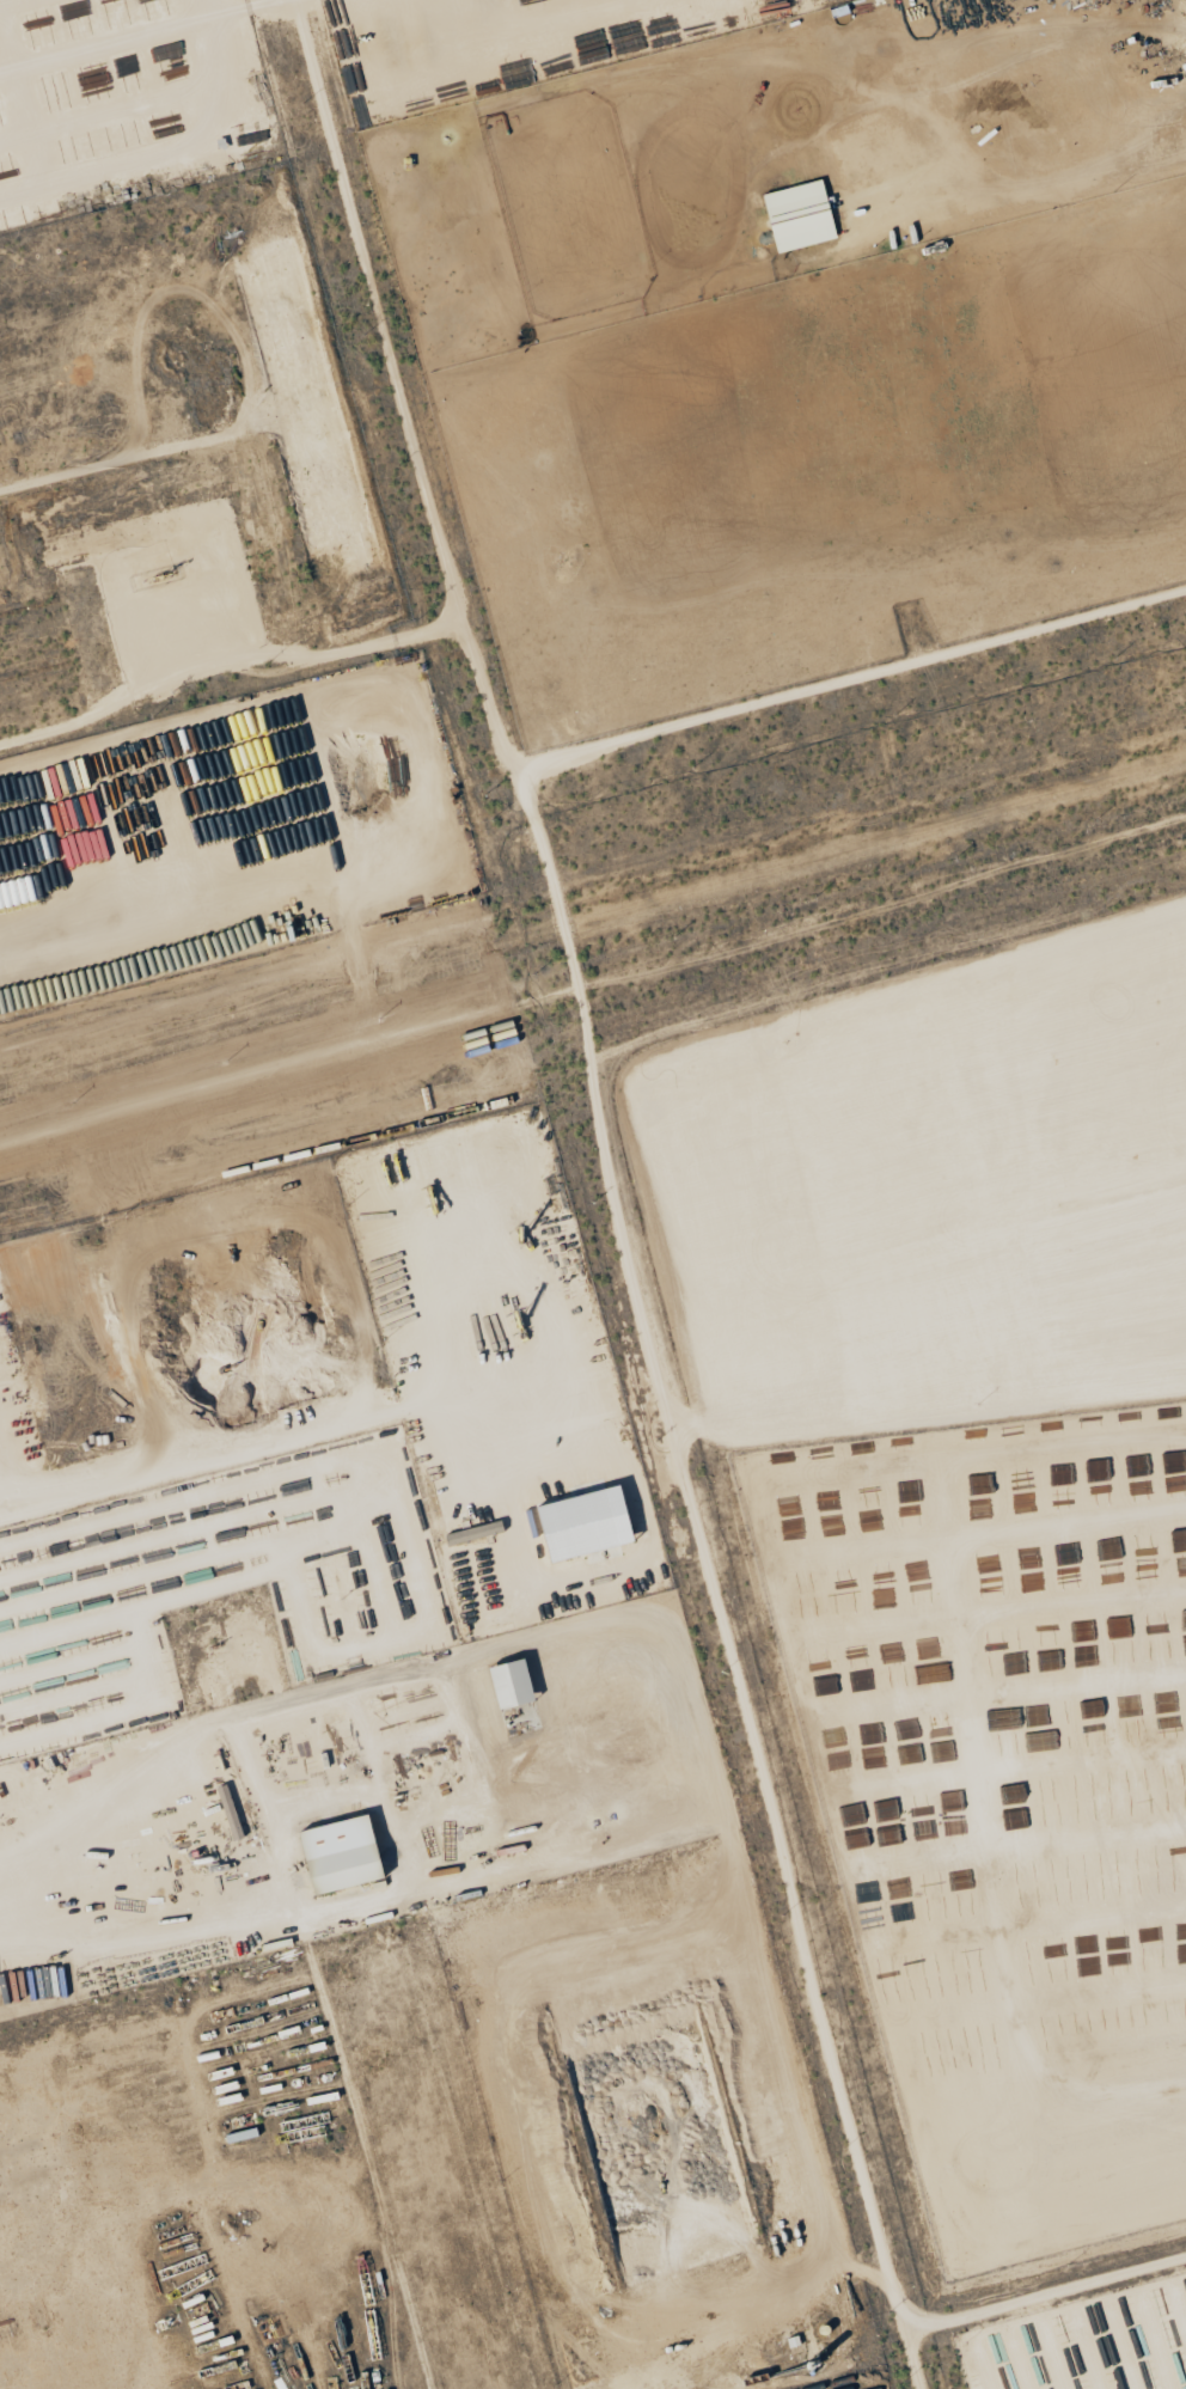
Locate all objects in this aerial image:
building: (800, 216)
road: (494, 721)
road: (258, 1443)
building: (585, 1522)
building: (512, 1684)
road: (80, 1722)
road: (469, 1739)
building: (341, 1853)

